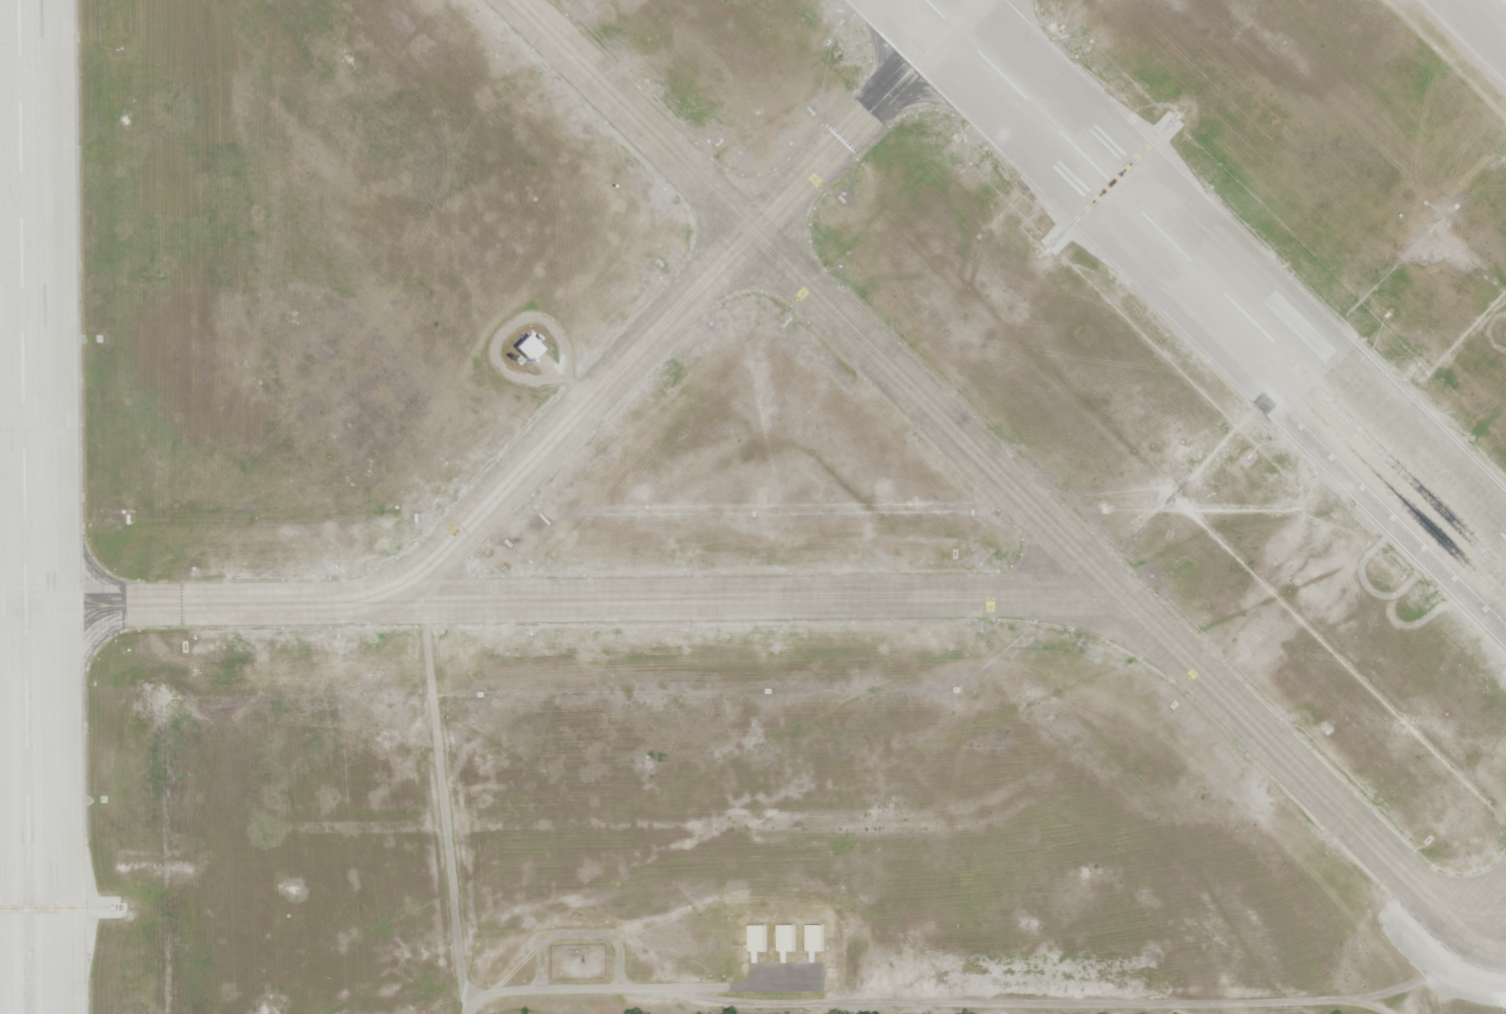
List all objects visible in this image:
airport runway: (1503, 2)
airport runway: (1216, 284)
airport taxiway: (668, 319)
building: (527, 347)
airport: (762, 379)
airport taxiway: (993, 470)
airport runway: (22, 507)
airport taxiway: (559, 599)
airport taxiway: (1496, 916)
road: (616, 985)

